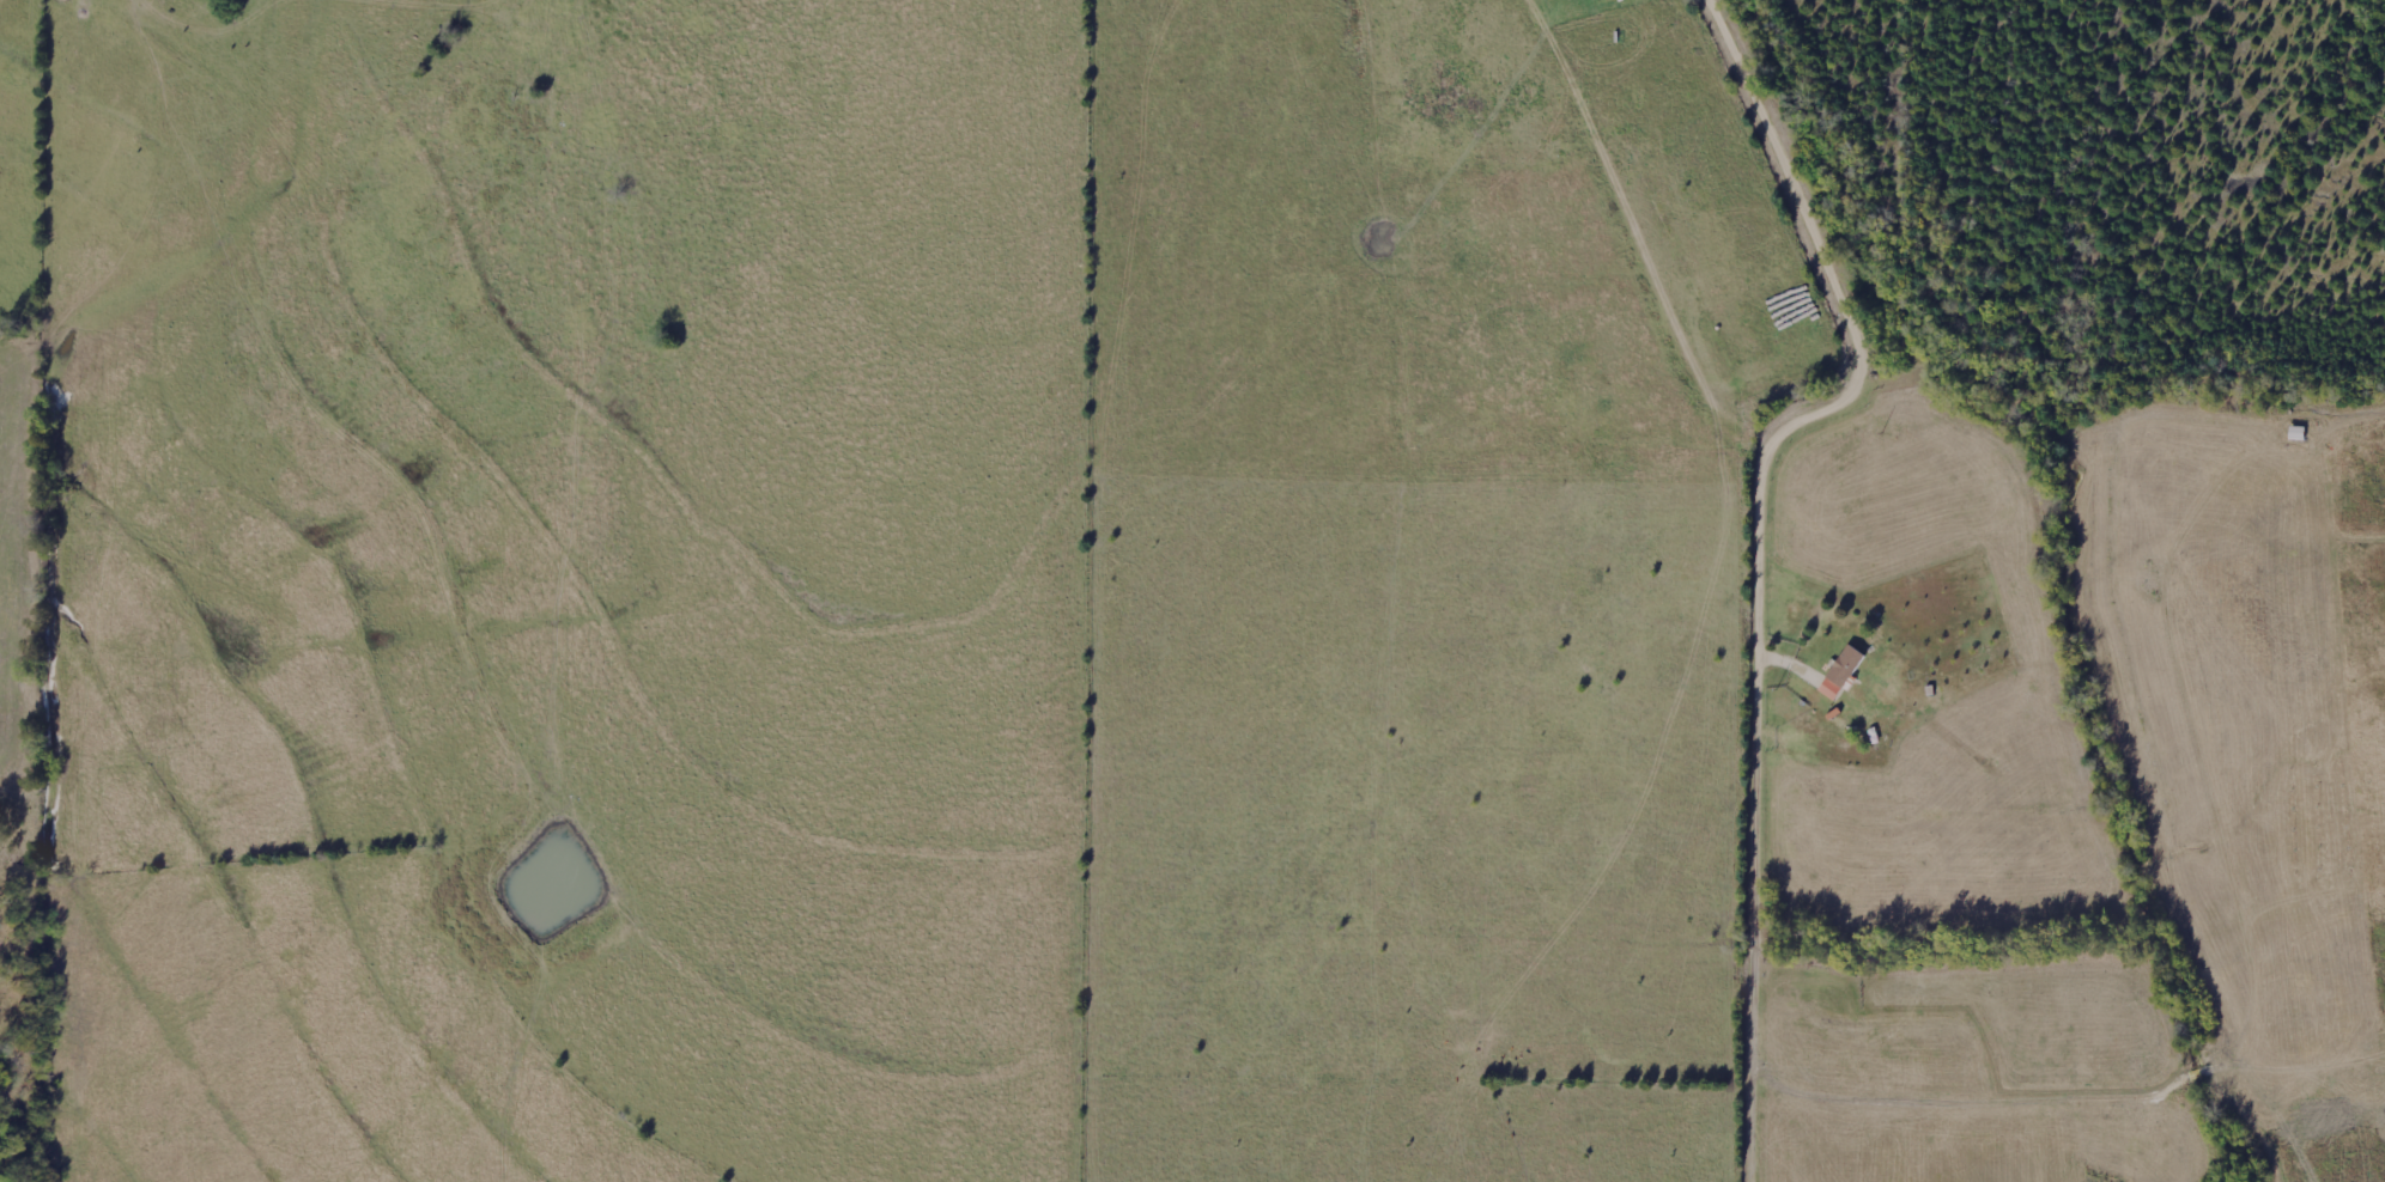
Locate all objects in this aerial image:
road: (1773, 552)
building: (1843, 672)

